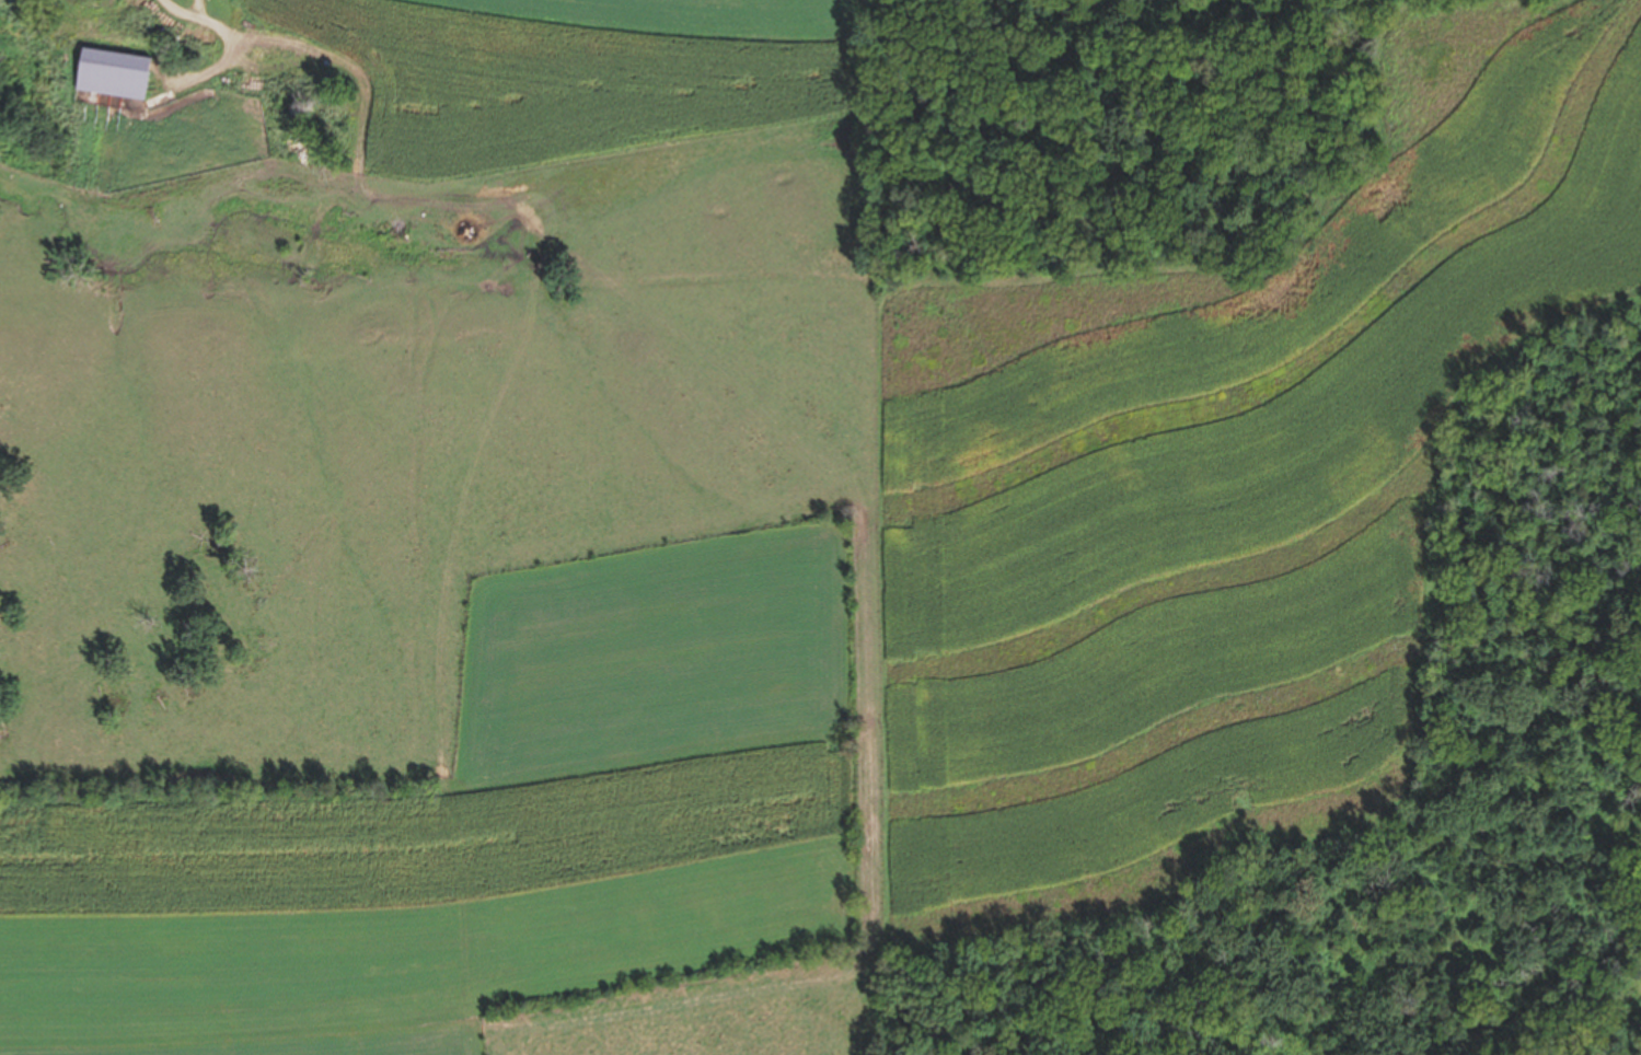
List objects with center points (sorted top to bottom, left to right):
building: (117, 74)

